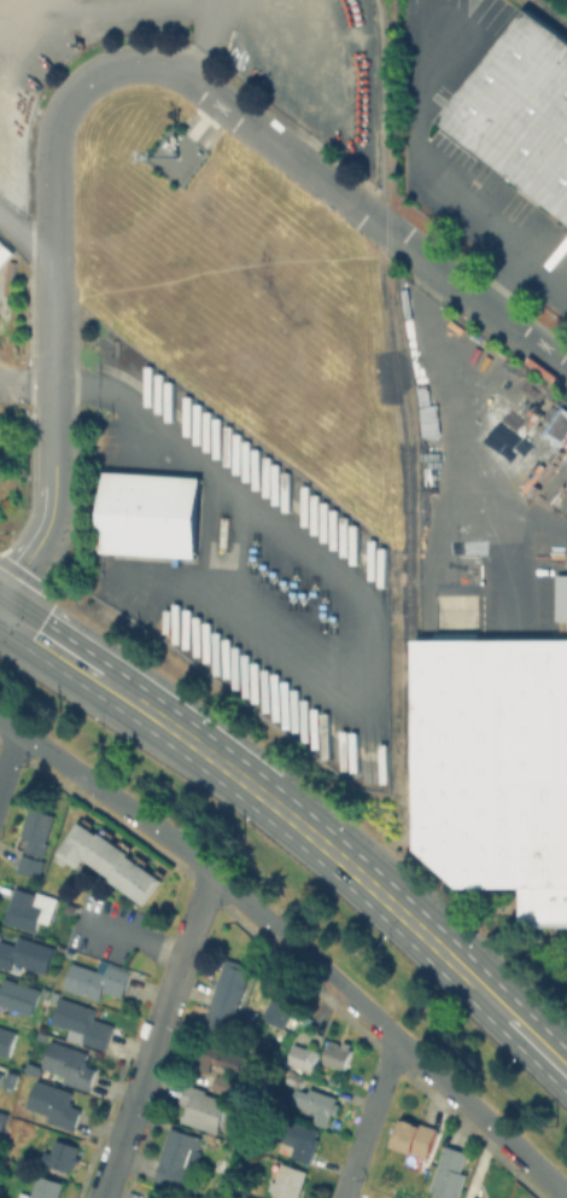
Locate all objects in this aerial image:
road: (216, 4)
railway: (557, 6)
road: (133, 11)
railway: (550, 16)
road: (200, 40)
building: (524, 112)
road: (277, 145)
road: (429, 169)
road: (25, 235)
road: (51, 249)
road: (503, 280)
railway: (399, 373)
road: (25, 380)
road: (467, 415)
road: (52, 453)
building: (152, 516)
road: (345, 578)
building: (561, 599)
road: (10, 760)
building: (493, 763)
road: (297, 824)
building: (35, 839)
building: (116, 865)
building: (34, 882)
building: (31, 907)
building: (543, 909)
building: (43, 929)
road: (293, 942)
building: (70, 952)
building: (25, 953)
road: (185, 953)
building: (99, 978)
building: (19, 994)
building: (228, 999)
building: (282, 1005)
building: (297, 1017)
building: (84, 1020)
building: (7, 1040)
building: (339, 1053)
building: (300, 1055)
building: (220, 1059)
building: (70, 1063)
building: (1, 1076)
building: (296, 1077)
building: (222, 1083)
building: (53, 1104)
building: (201, 1106)
building: (316, 1106)
building: (2, 1117)
road: (129, 1117)
road: (370, 1118)
building: (416, 1136)
building: (300, 1138)
building: (62, 1155)
building: (177, 1158)
building: (452, 1173)
building: (240, 1180)
building: (288, 1181)
building: (45, 1187)
building: (241, 1197)
building: (246, 1197)
building: (477, 1197)

